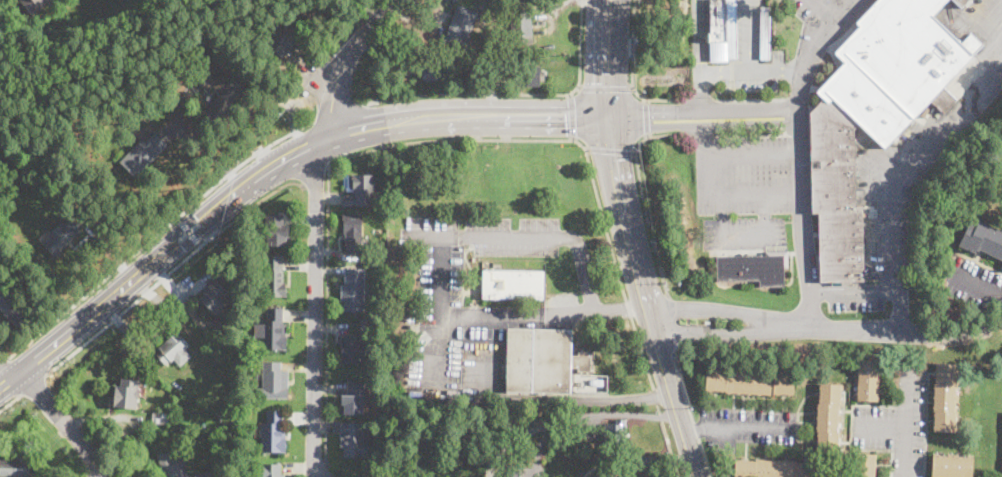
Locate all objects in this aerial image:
building: (960, 3)
building: (34, 4)
building: (314, 9)
road: (825, 10)
road: (847, 10)
parking lot: (830, 12)
building: (460, 25)
building: (520, 26)
building: (722, 30)
building: (763, 31)
road: (745, 35)
road: (753, 35)
road: (704, 36)
road: (695, 37)
building: (284, 40)
road: (605, 59)
road: (806, 60)
road: (347, 61)
building: (223, 65)
building: (432, 71)
road: (749, 72)
building: (137, 74)
building: (533, 76)
building: (471, 77)
road: (631, 79)
traffic signals: (605, 82)
road: (605, 87)
building: (177, 89)
road: (698, 91)
road: (515, 93)
building: (223, 102)
road: (701, 109)
traffic signals: (650, 111)
road: (337, 112)
building: (874, 112)
road: (572, 116)
road: (646, 117)
traffic signals: (565, 118)
road: (426, 119)
road: (701, 126)
road: (472, 139)
road: (611, 151)
building: (144, 156)
road: (750, 157)
traffic signals: (612, 159)
building: (1001, 169)
road: (315, 176)
road: (901, 180)
road: (641, 187)
building: (361, 191)
parking lot: (746, 191)
road: (716, 196)
road: (798, 218)
road: (188, 230)
building: (275, 231)
road: (155, 233)
building: (352, 233)
building: (61, 237)
road: (487, 237)
building: (983, 239)
road: (743, 240)
building: (754, 268)
road: (170, 270)
road: (584, 270)
building: (274, 276)
road: (129, 282)
parking lot: (971, 283)
building: (513, 284)
road: (978, 286)
road: (853, 291)
parking lot: (458, 292)
building: (353, 293)
building: (215, 296)
parking lot: (855, 296)
road: (642, 299)
building: (12, 306)
road: (601, 309)
road: (440, 311)
parking lot: (545, 311)
road: (314, 312)
road: (499, 320)
road: (671, 323)
road: (827, 328)
building: (275, 330)
parking lot: (0, 345)
building: (230, 345)
building: (352, 348)
building: (174, 349)
road: (3, 360)
building: (542, 361)
road: (4, 374)
building: (868, 380)
building: (589, 381)
building: (273, 382)
building: (750, 382)
road: (31, 385)
building: (127, 393)
building: (945, 398)
road: (573, 399)
building: (354, 400)
road: (10, 401)
road: (689, 407)
building: (828, 418)
building: (163, 419)
road: (906, 419)
road: (64, 420)
parking lot: (897, 421)
road: (736, 425)
parking lot: (746, 425)
road: (881, 427)
building: (274, 432)
building: (615, 436)
building: (354, 440)
building: (863, 465)
building: (170, 466)
building: (17, 467)
building: (951, 467)
building: (773, 469)
building: (189, 470)
building: (270, 470)
building: (512, 471)
building: (206, 474)
building: (233, 474)

